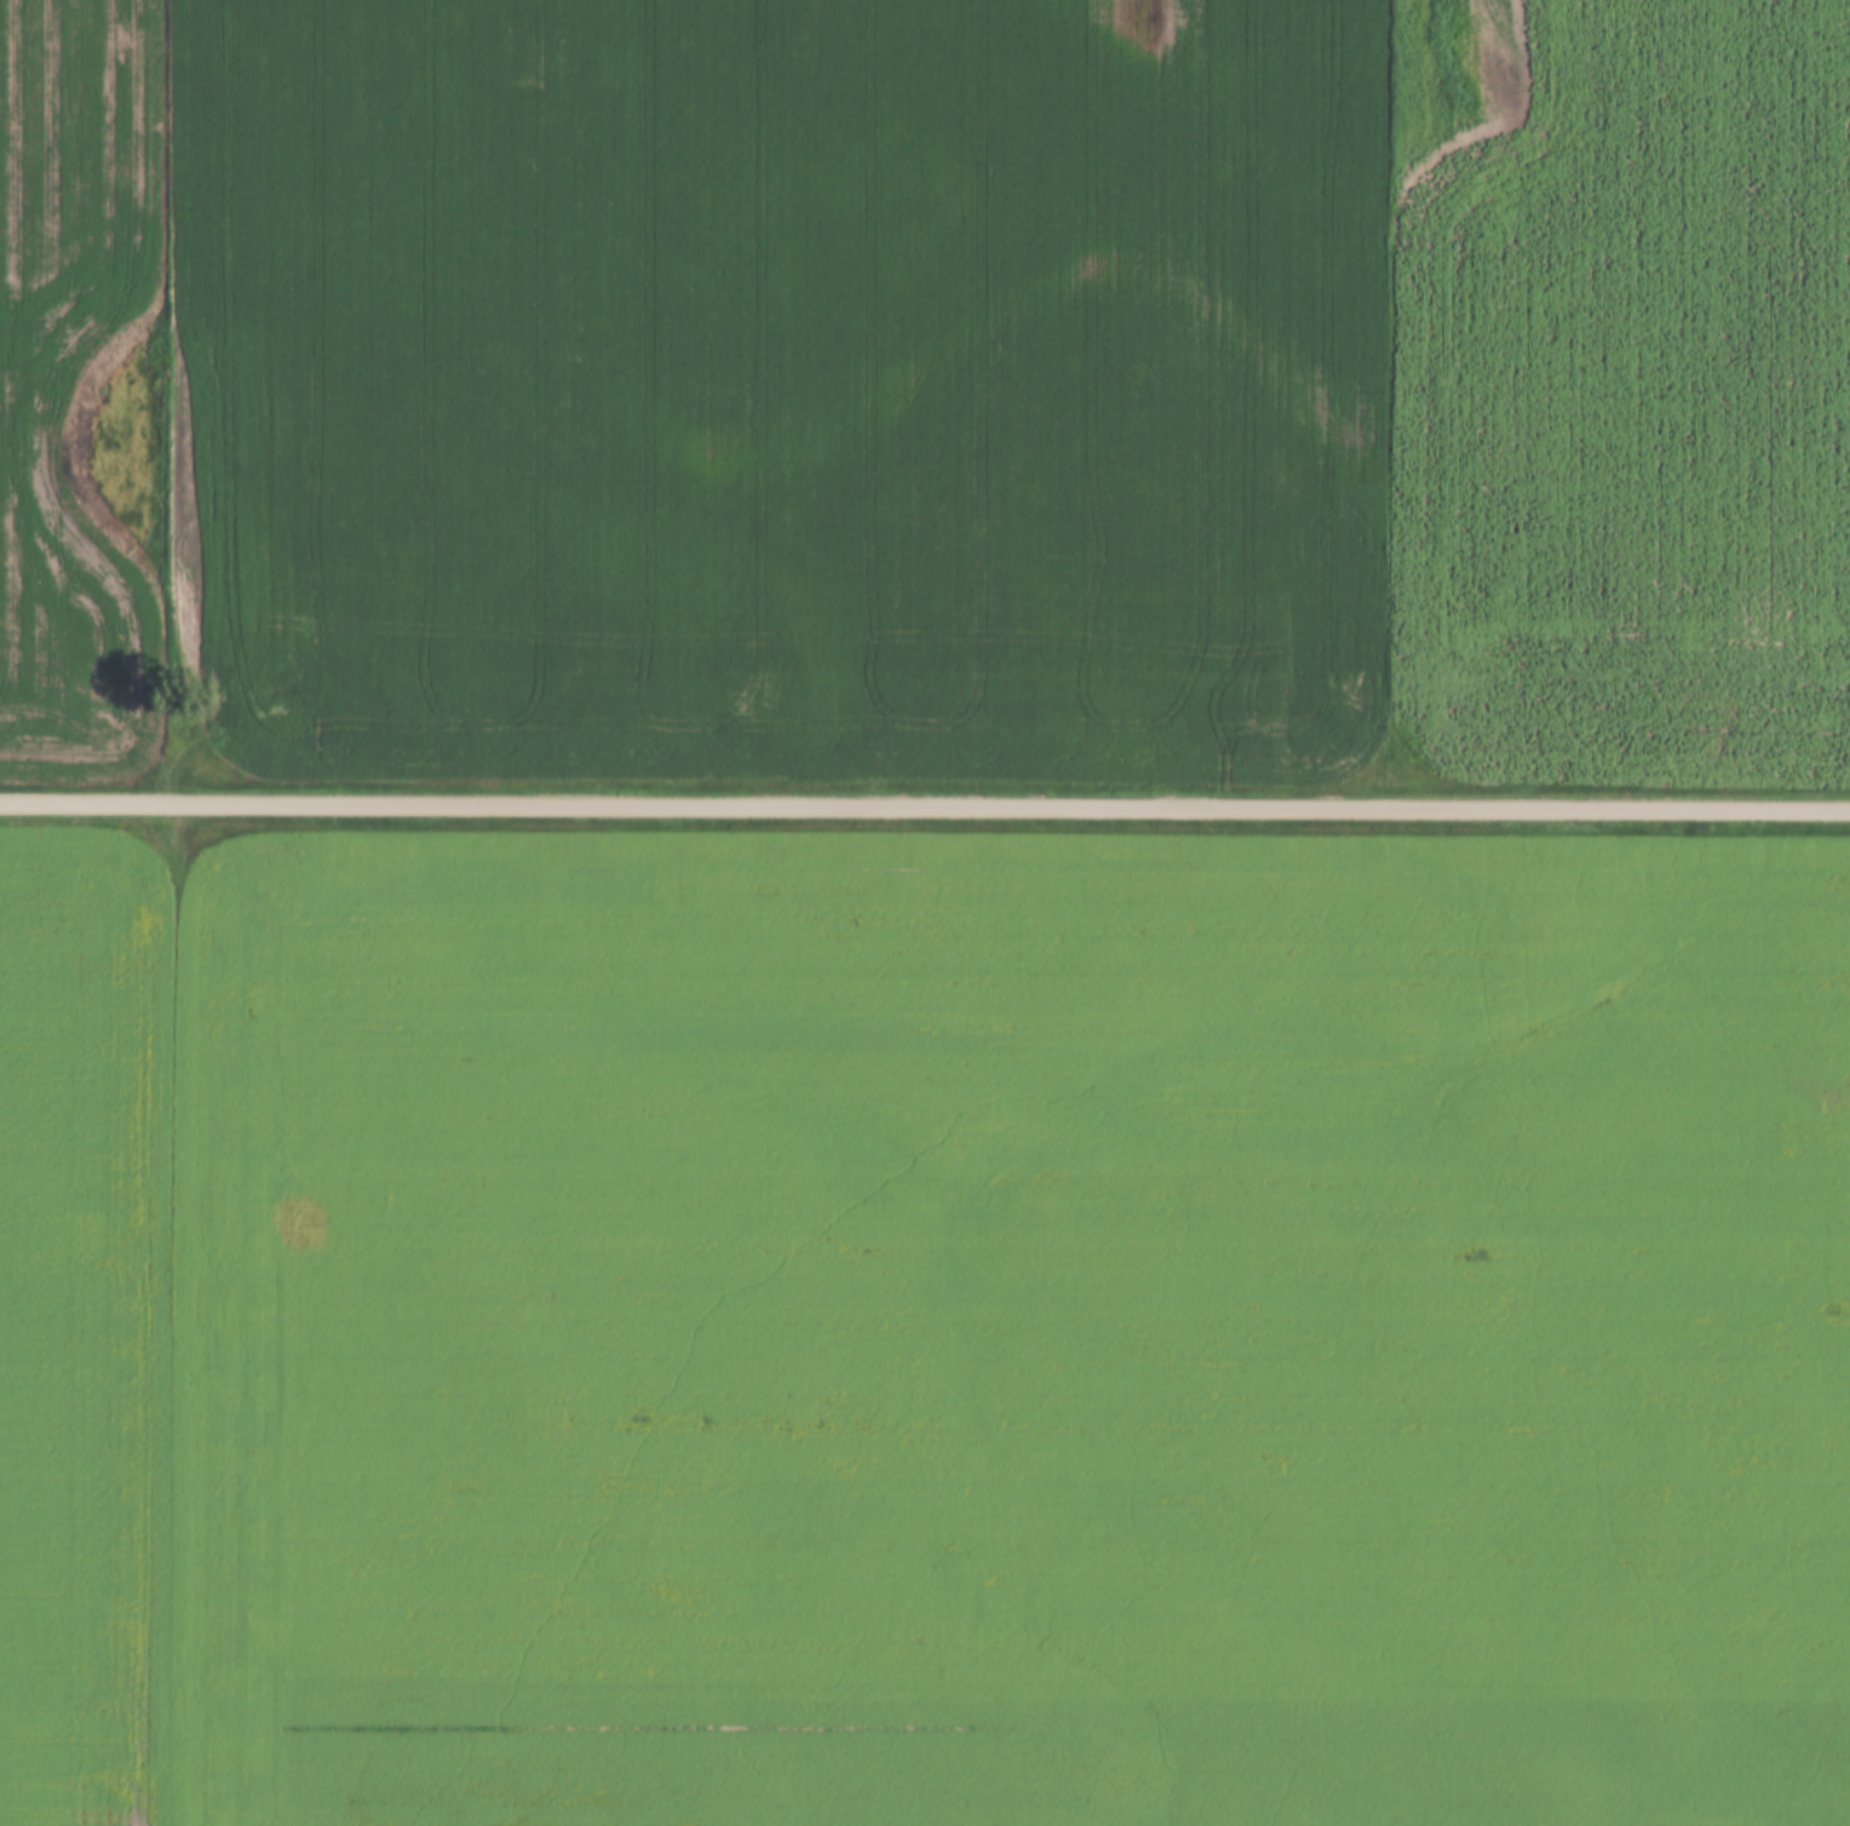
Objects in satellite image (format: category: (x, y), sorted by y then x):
road: (925, 799)

